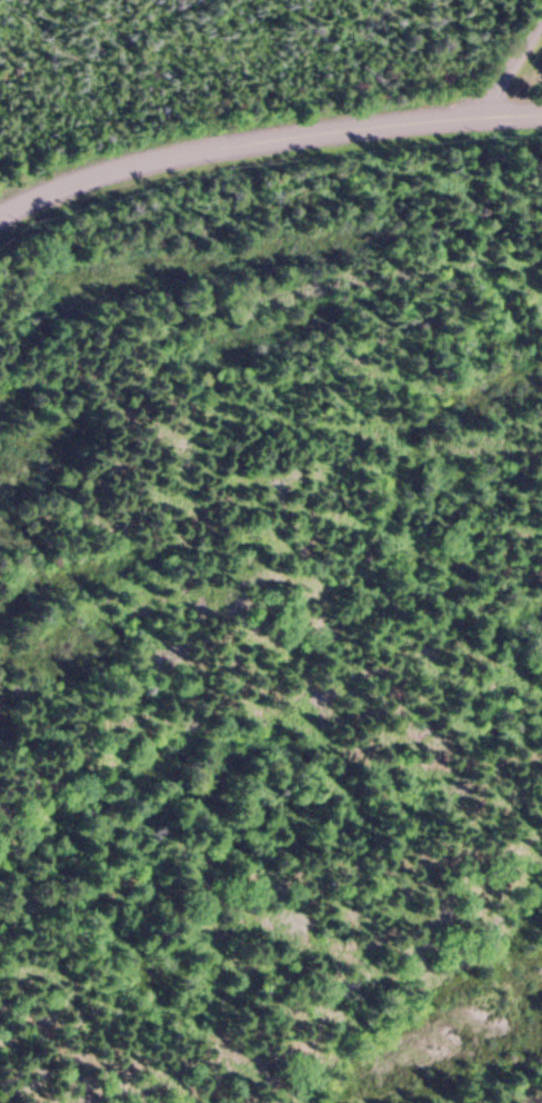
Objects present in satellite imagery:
road: (509, 62)
road: (264, 139)

